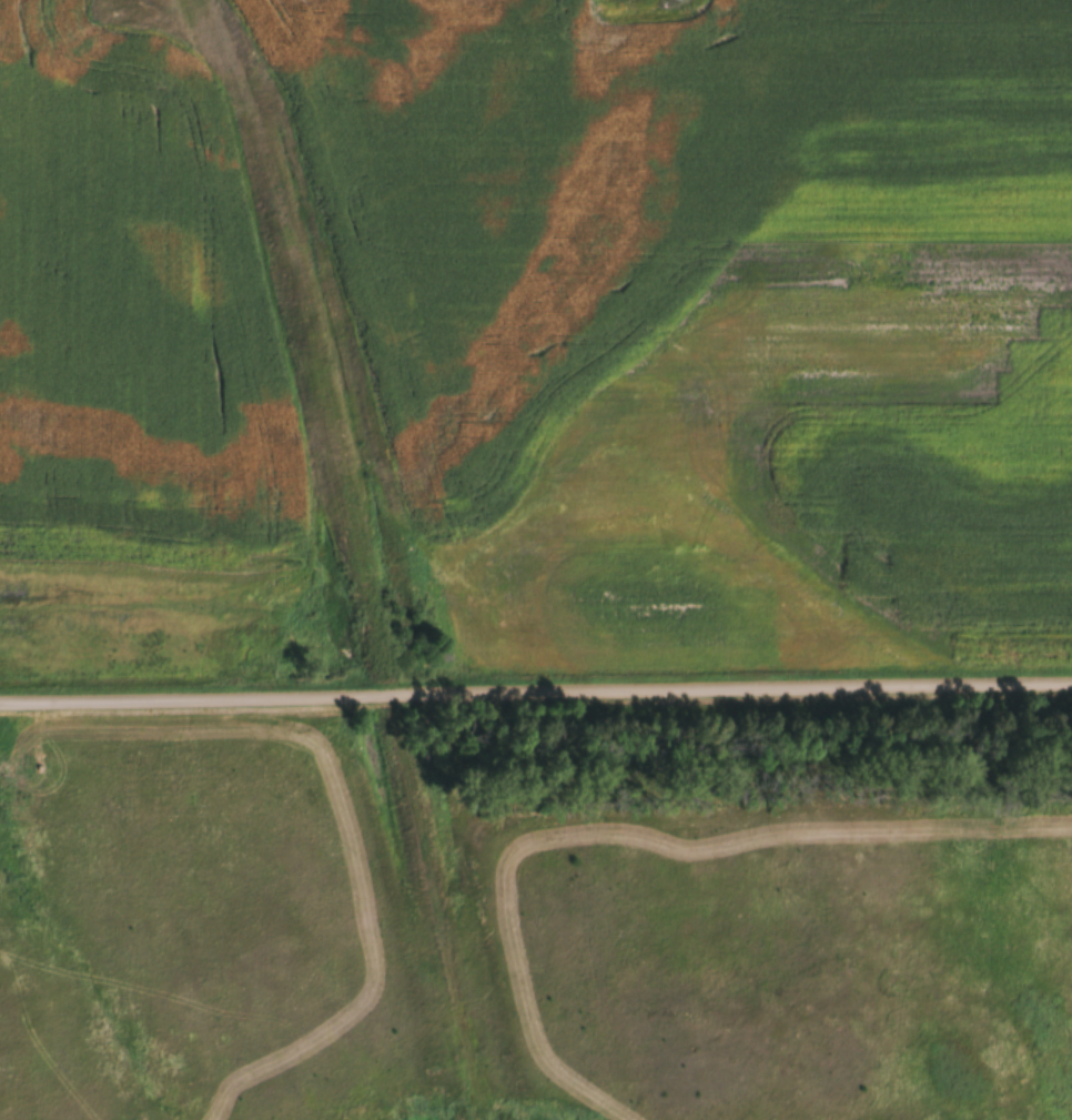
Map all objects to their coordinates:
road: (535, 692)

